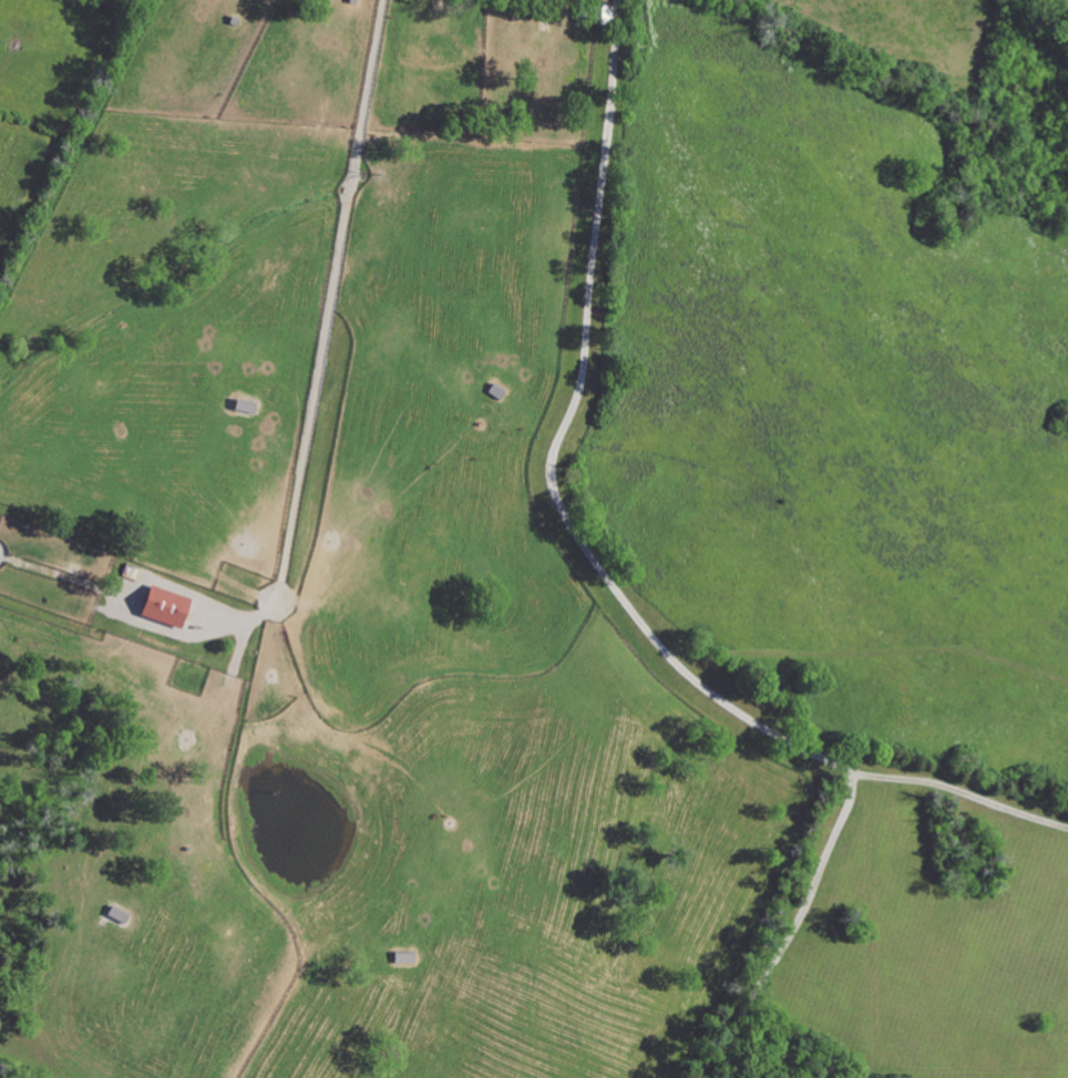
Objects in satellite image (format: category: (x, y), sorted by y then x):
road: (330, 304)
road: (620, 598)
building: (165, 608)
road: (961, 794)

